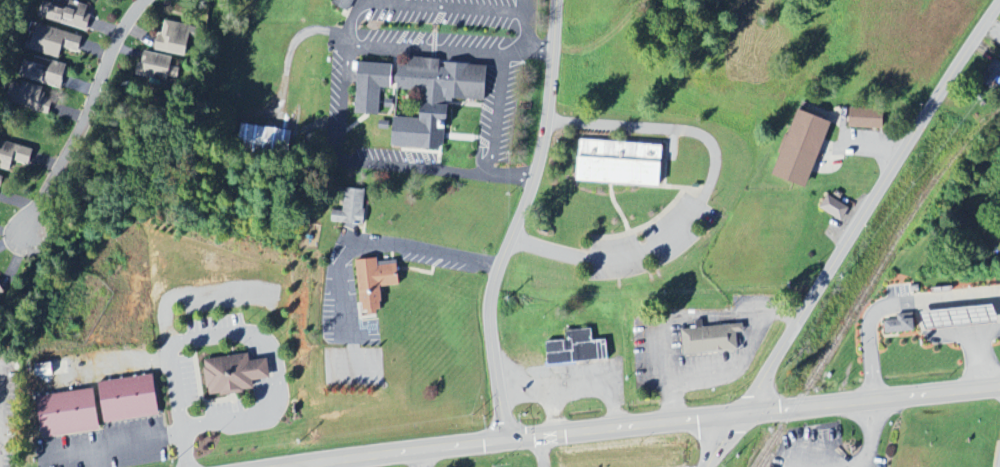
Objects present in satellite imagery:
building: (344, 4)
road: (445, 10)
building: (69, 13)
road: (352, 17)
road: (525, 23)
building: (175, 38)
building: (54, 42)
road: (528, 48)
road: (427, 52)
building: (157, 67)
building: (44, 71)
building: (994, 71)
building: (29, 97)
building: (375, 104)
road: (82, 114)
building: (867, 118)
road: (661, 126)
road: (493, 136)
building: (266, 137)
building: (804, 148)
building: (14, 158)
road: (359, 162)
building: (621, 163)
building: (0, 179)
building: (353, 208)
building: (836, 208)
road: (866, 208)
road: (516, 221)
road: (420, 251)
road: (614, 256)
railway: (868, 281)
building: (376, 284)
building: (2, 292)
road: (960, 294)
road: (679, 318)
building: (962, 318)
building: (902, 324)
building: (711, 339)
building: (577, 349)
road: (733, 370)
building: (234, 374)
road: (872, 381)
building: (98, 407)
road: (180, 419)
traffic signals: (737, 420)
road: (675, 425)
road: (871, 435)
traffic signals: (503, 442)
road: (722, 443)

